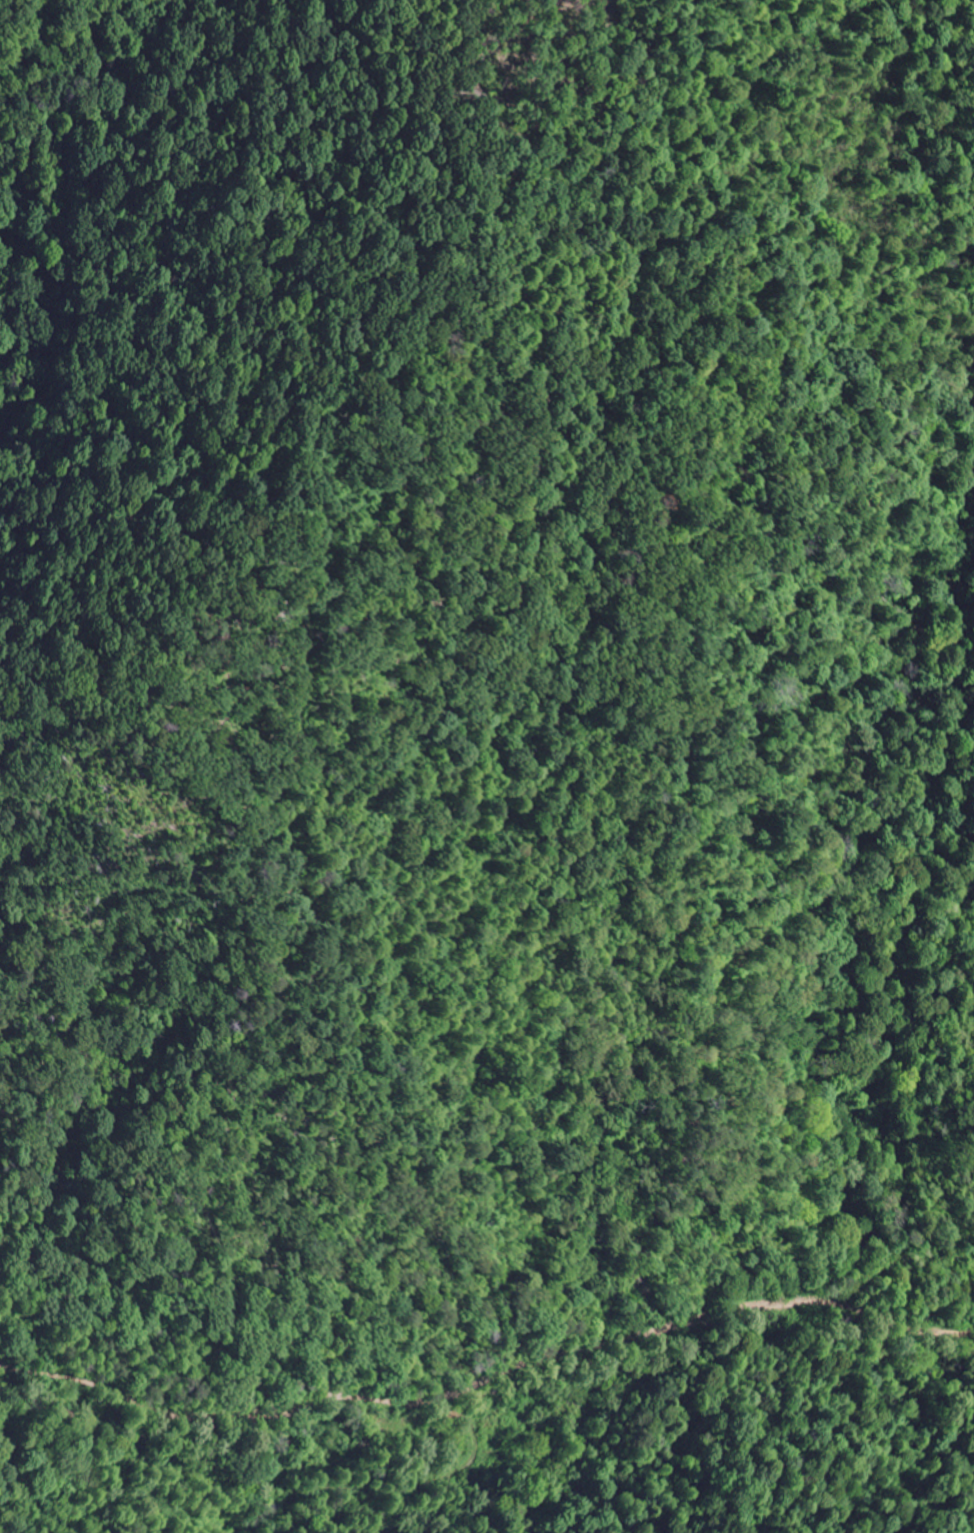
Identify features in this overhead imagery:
road: (485, 1379)

